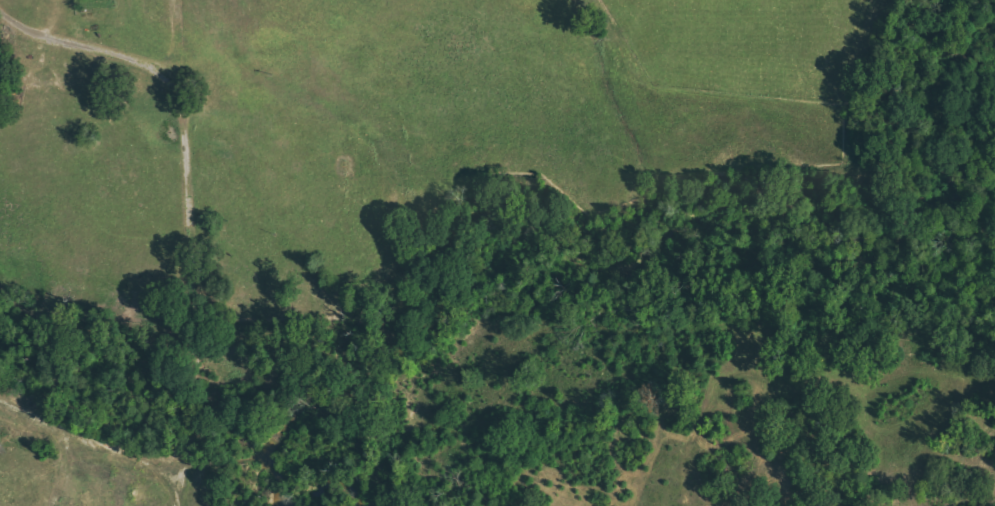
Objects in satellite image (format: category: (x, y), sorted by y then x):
road: (185, 201)
road: (89, 441)
road: (175, 505)
road: (176, 505)

